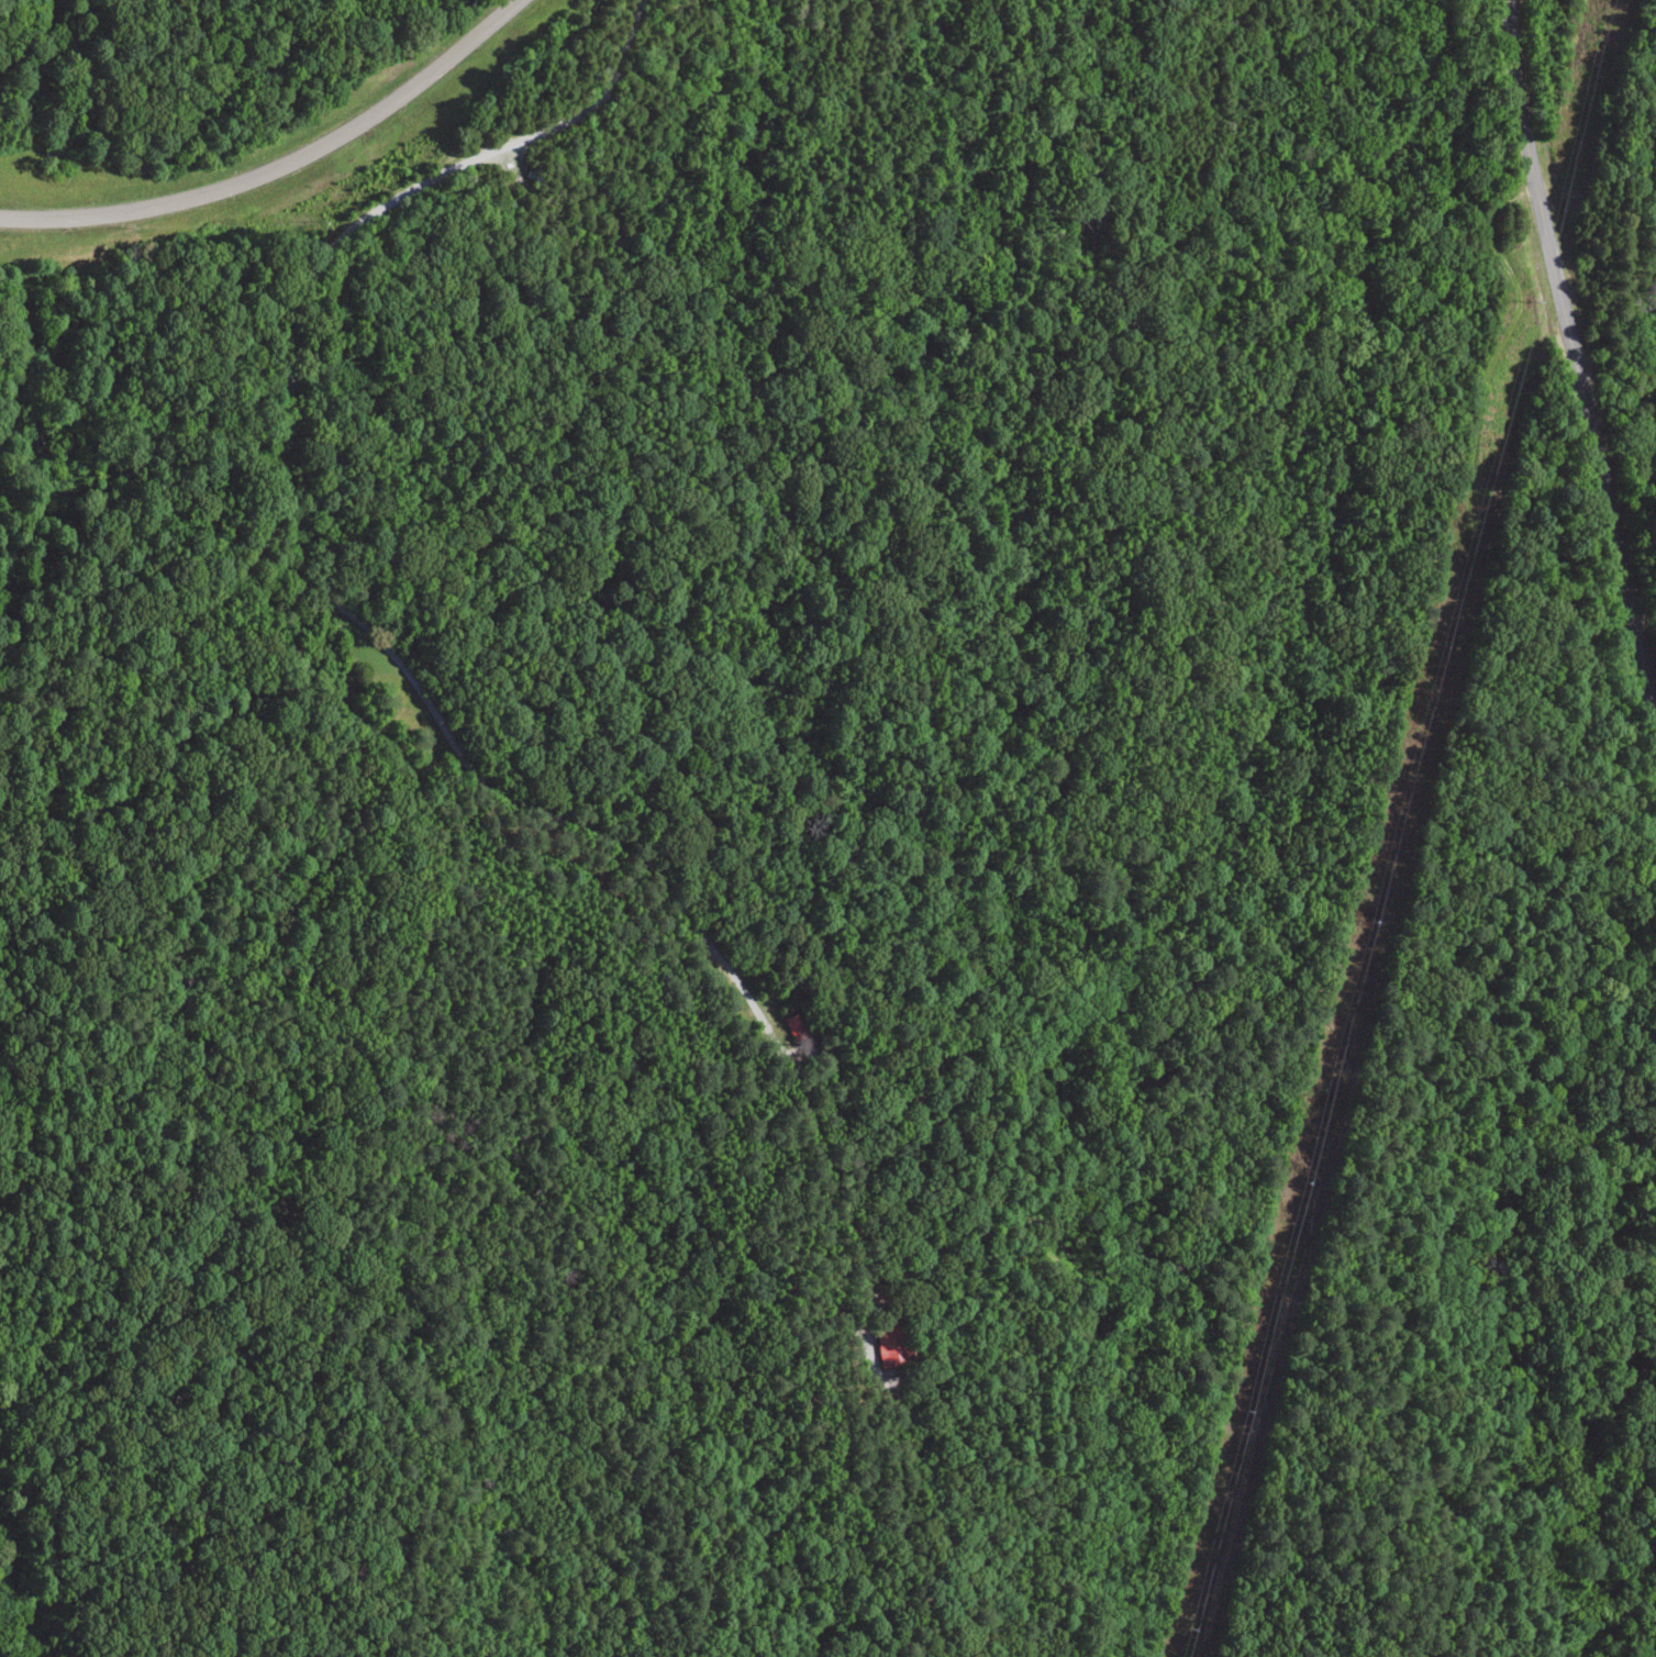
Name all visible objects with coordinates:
road: (280, 165)
road: (1580, 356)

